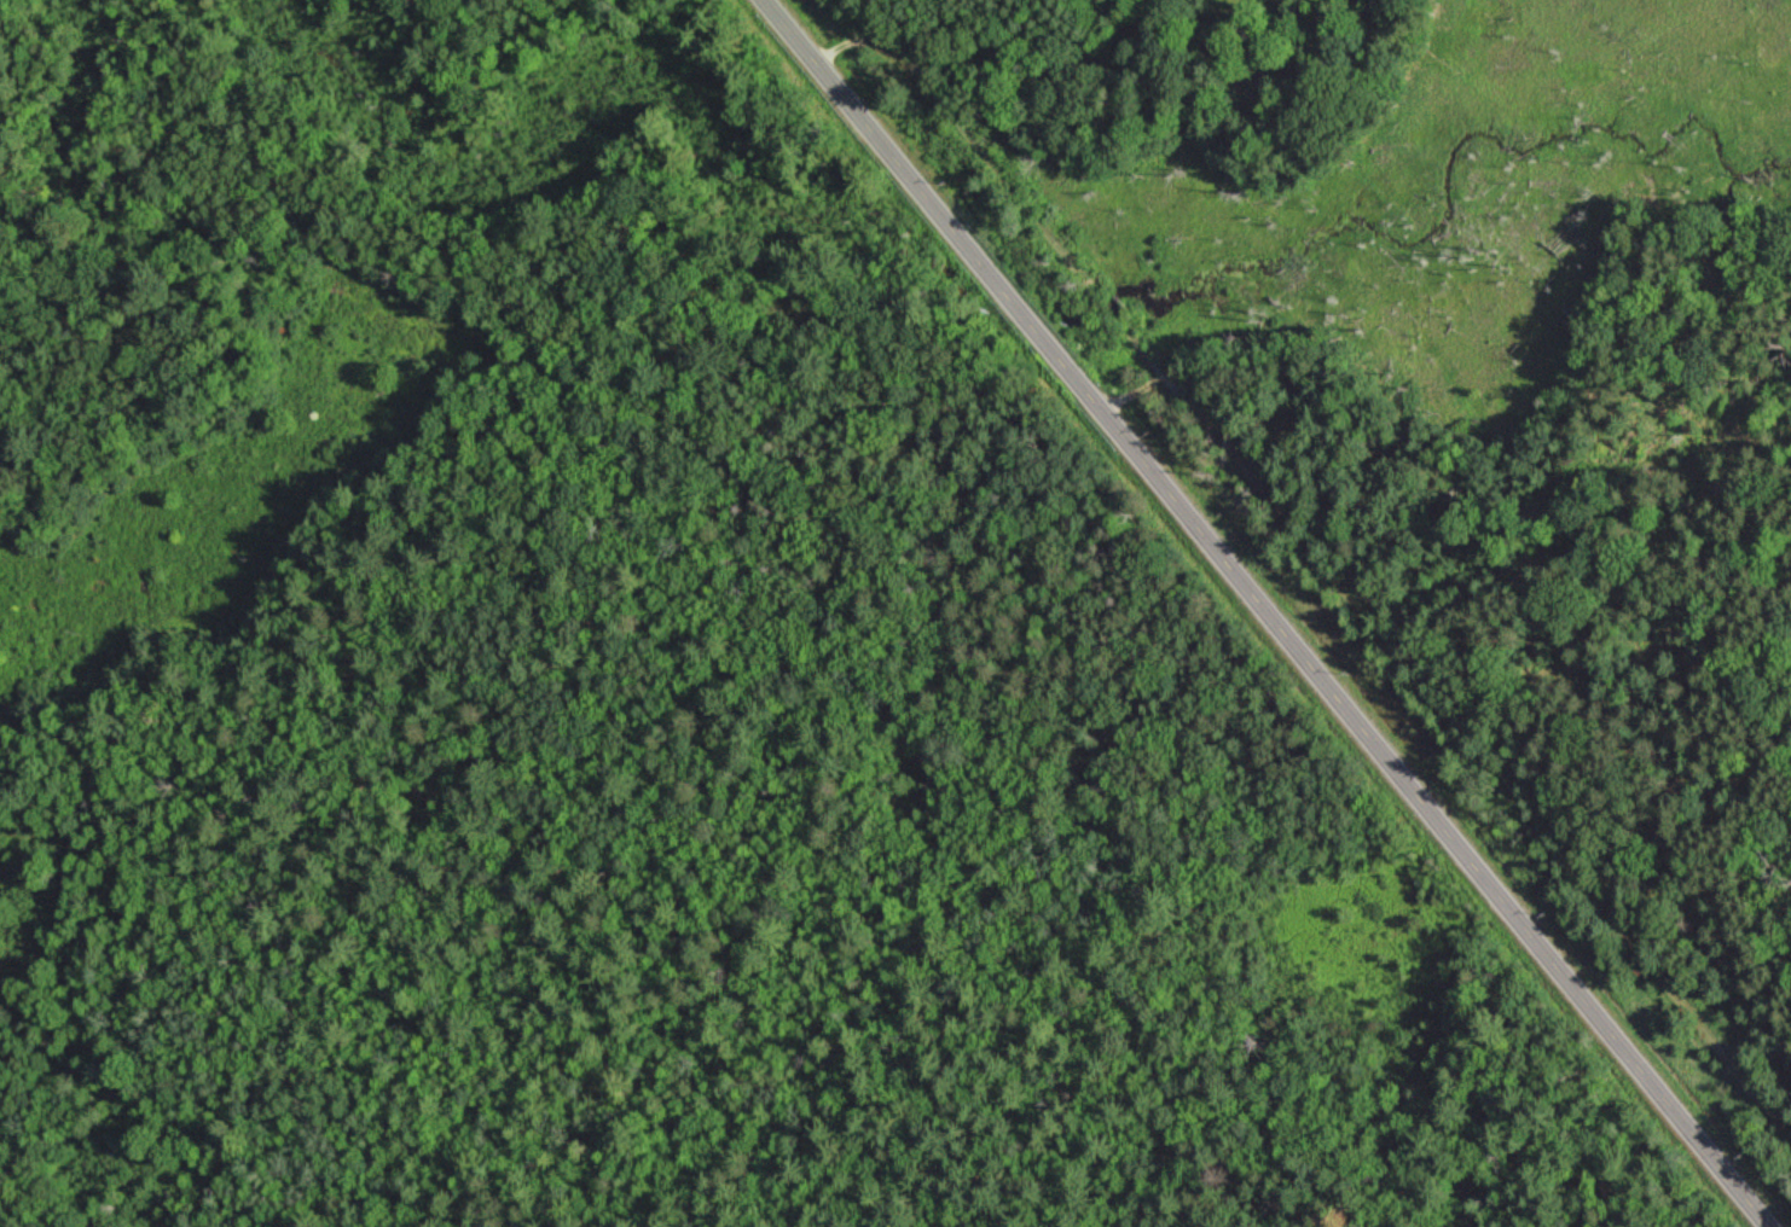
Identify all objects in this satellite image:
road: (1267, 612)

